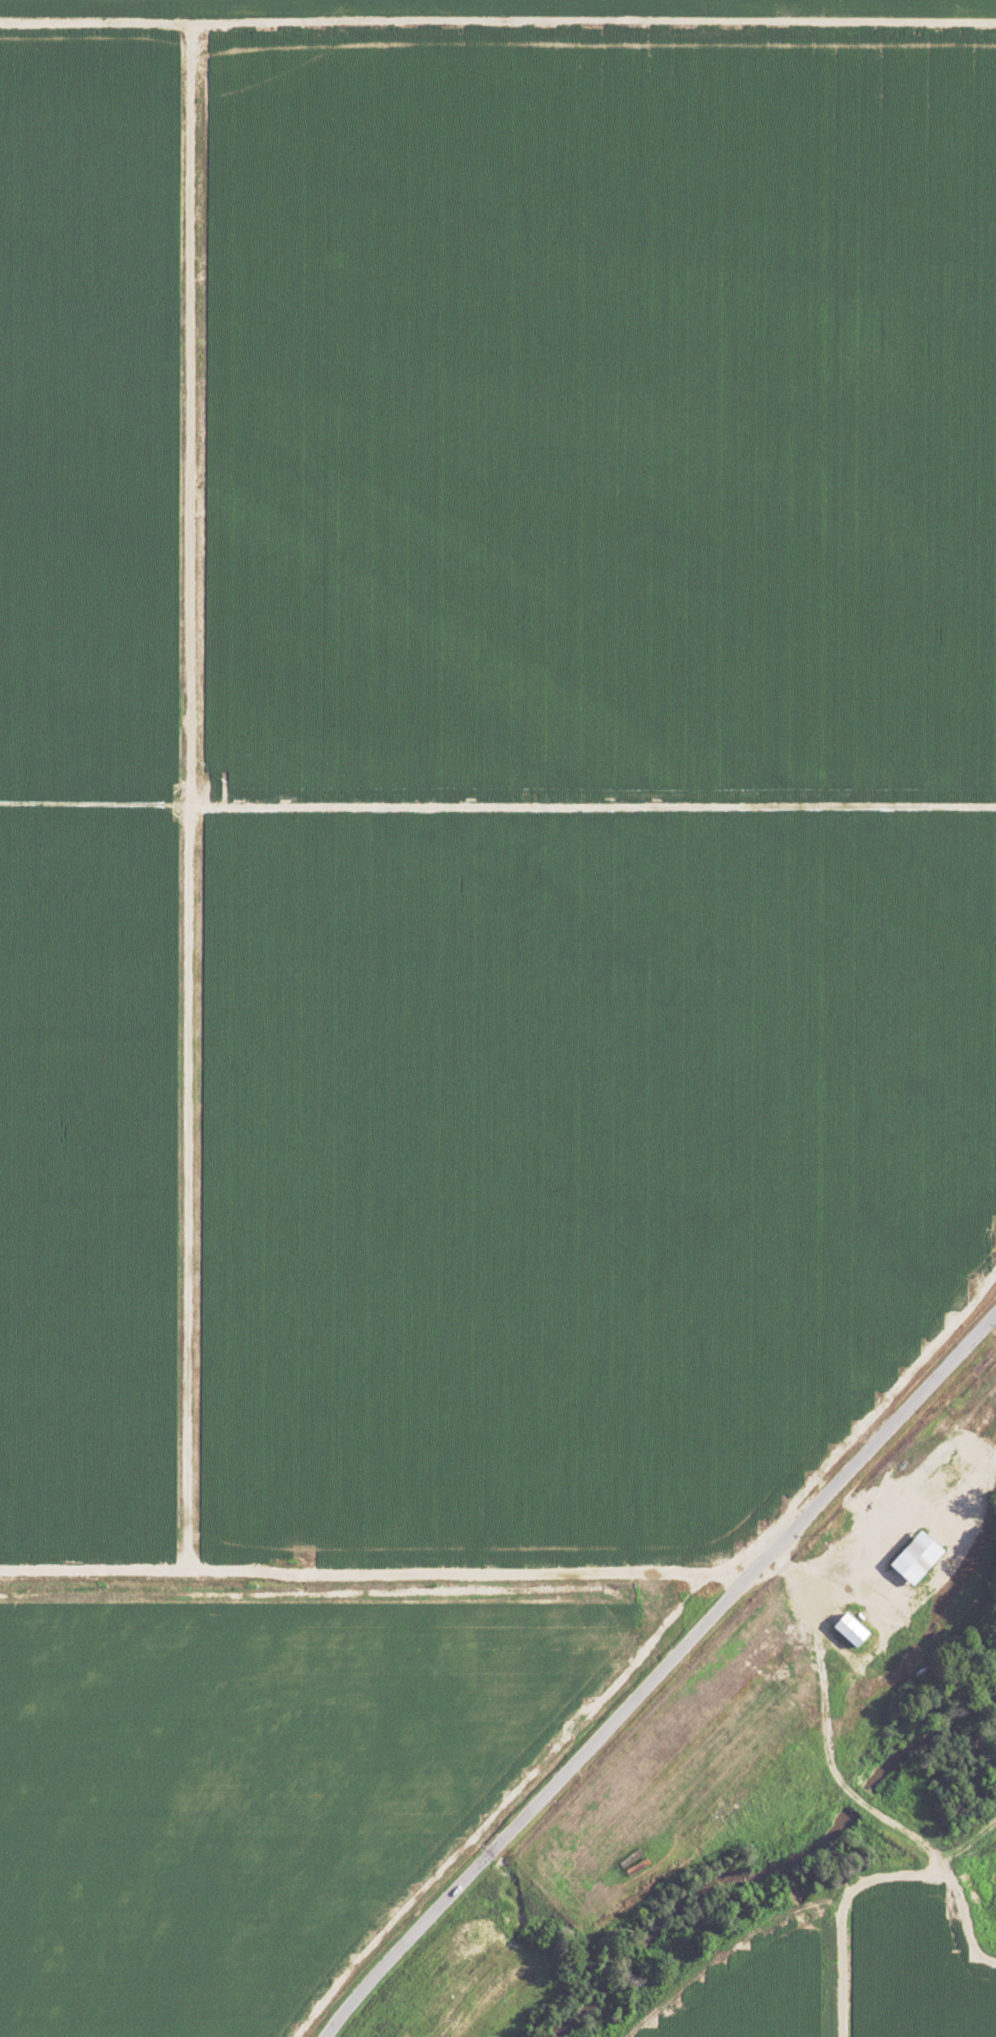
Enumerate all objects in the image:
road: (497, 22)
road: (663, 1581)
building: (846, 1631)
road: (658, 1674)

